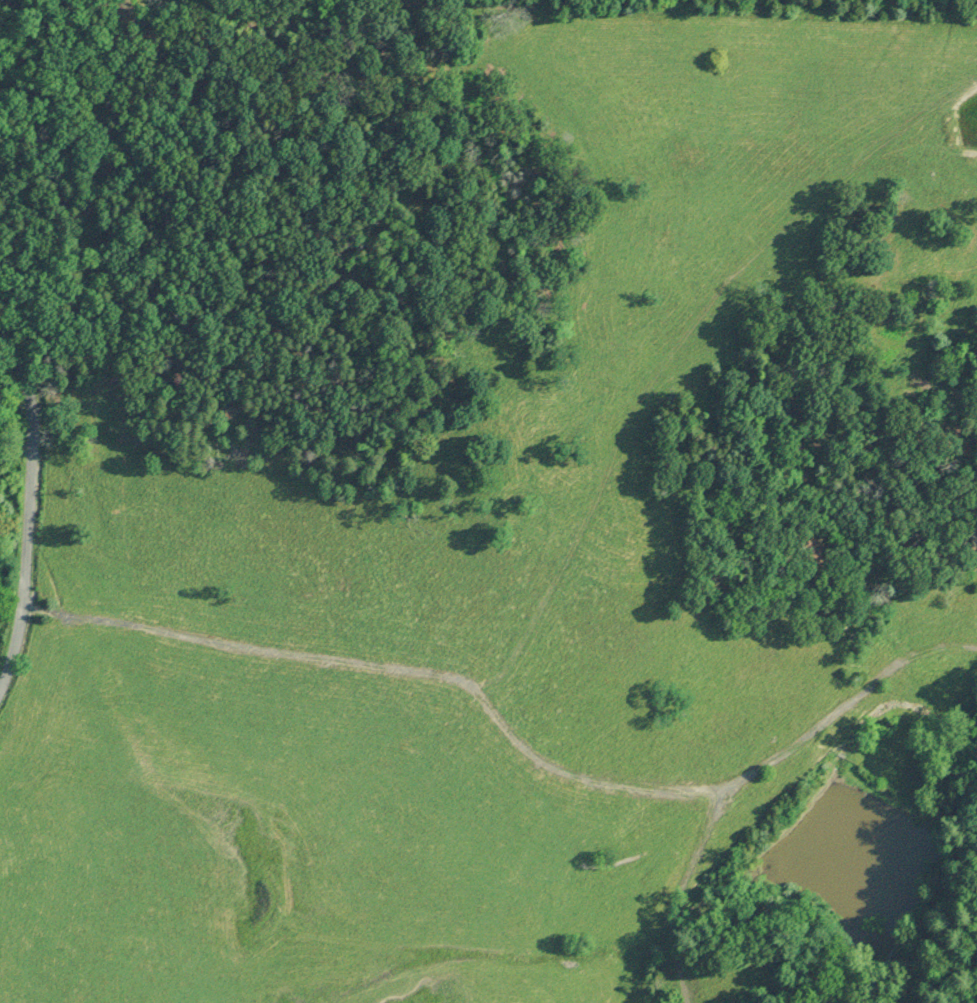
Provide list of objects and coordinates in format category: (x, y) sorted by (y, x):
road: (50, 501)
road: (23, 520)

